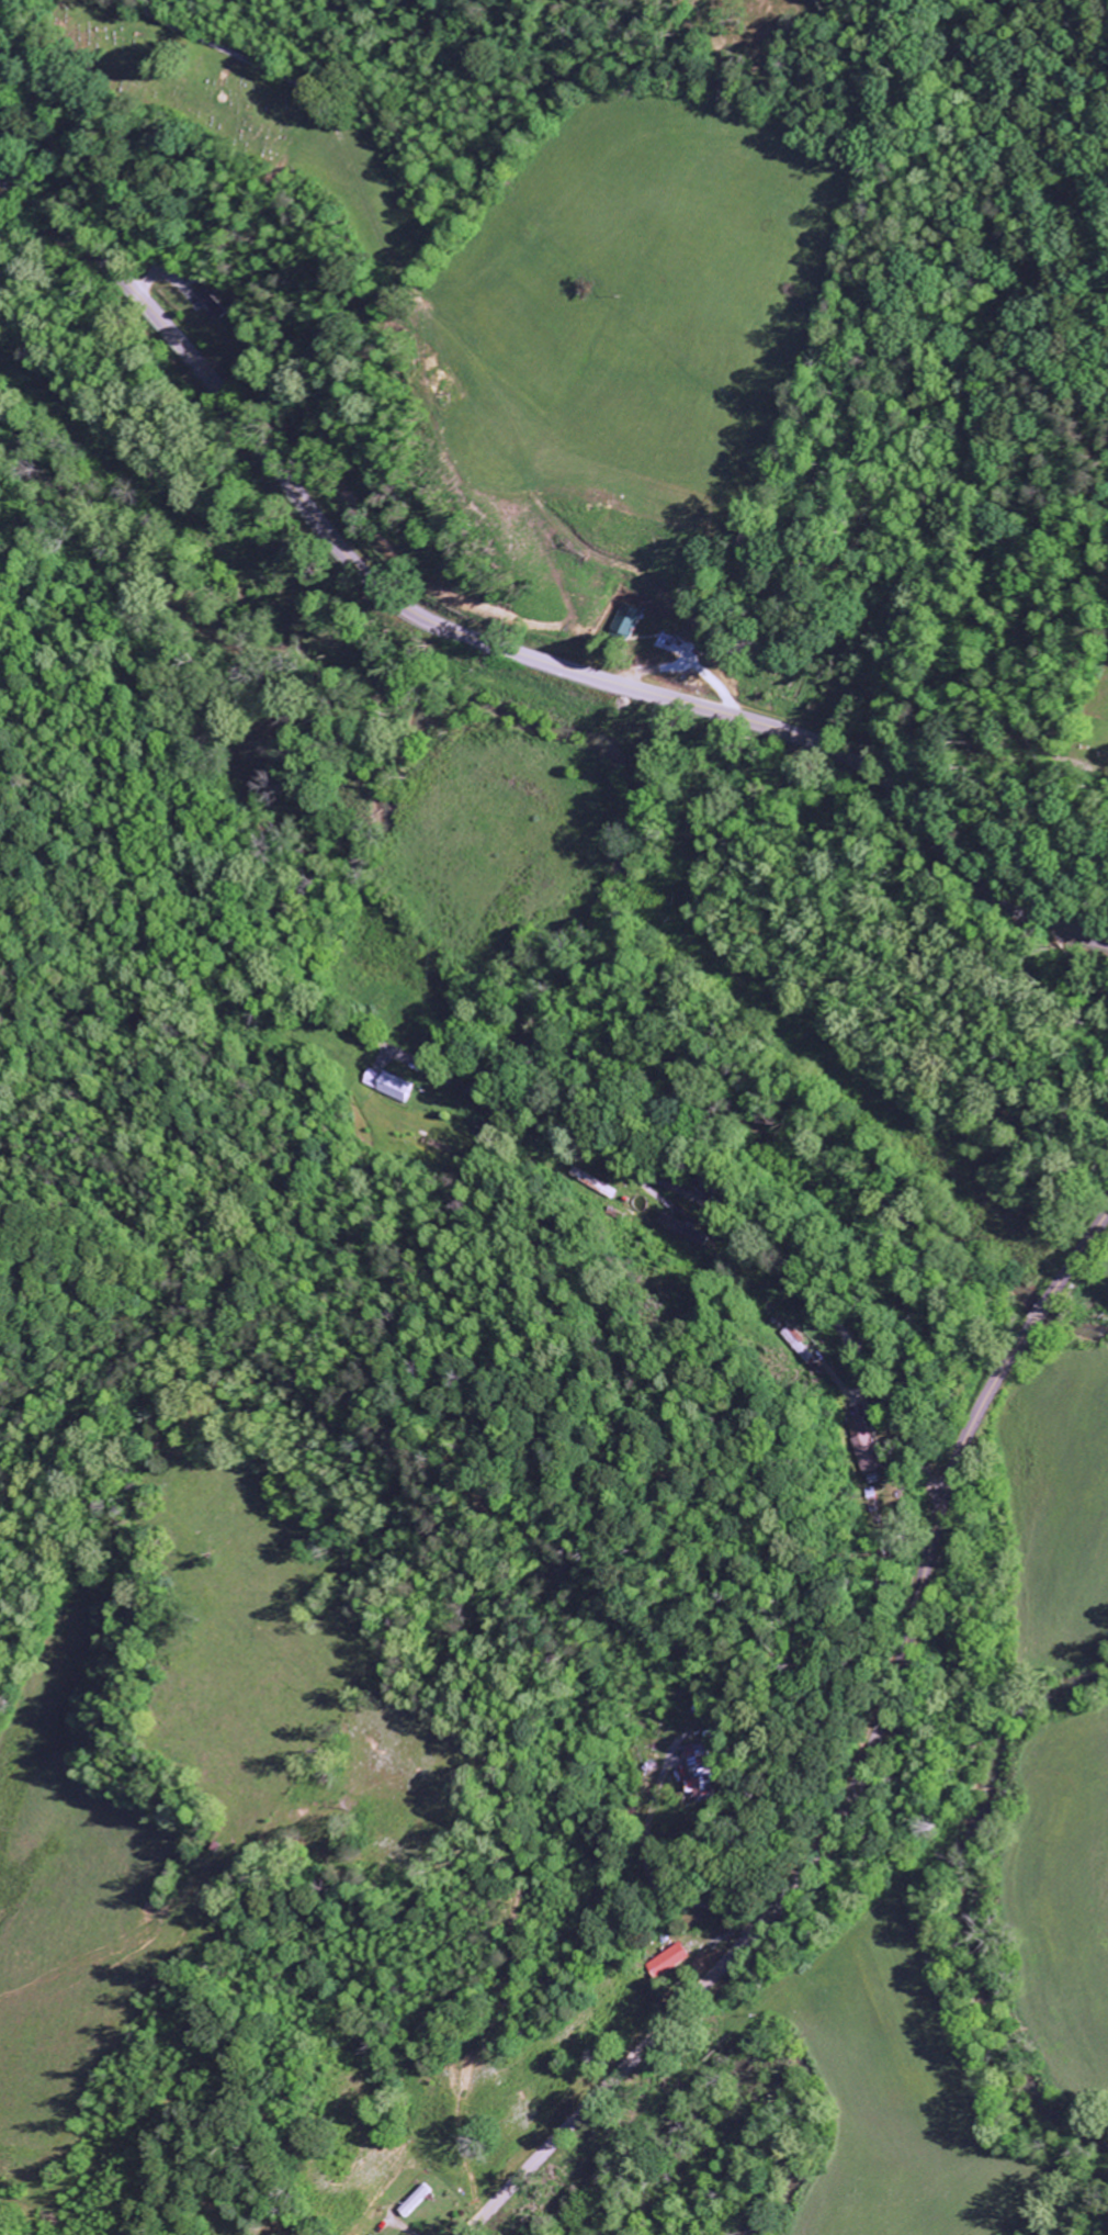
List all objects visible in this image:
road: (216, 45)
park: (184, 89)
road: (79, 167)
building: (216, 302)
building: (631, 620)
road: (488, 642)
building: (399, 1087)
road: (719, 1215)
building: (683, 1229)
building: (871, 1455)
building: (704, 1768)
road: (860, 1768)
building: (421, 2199)

